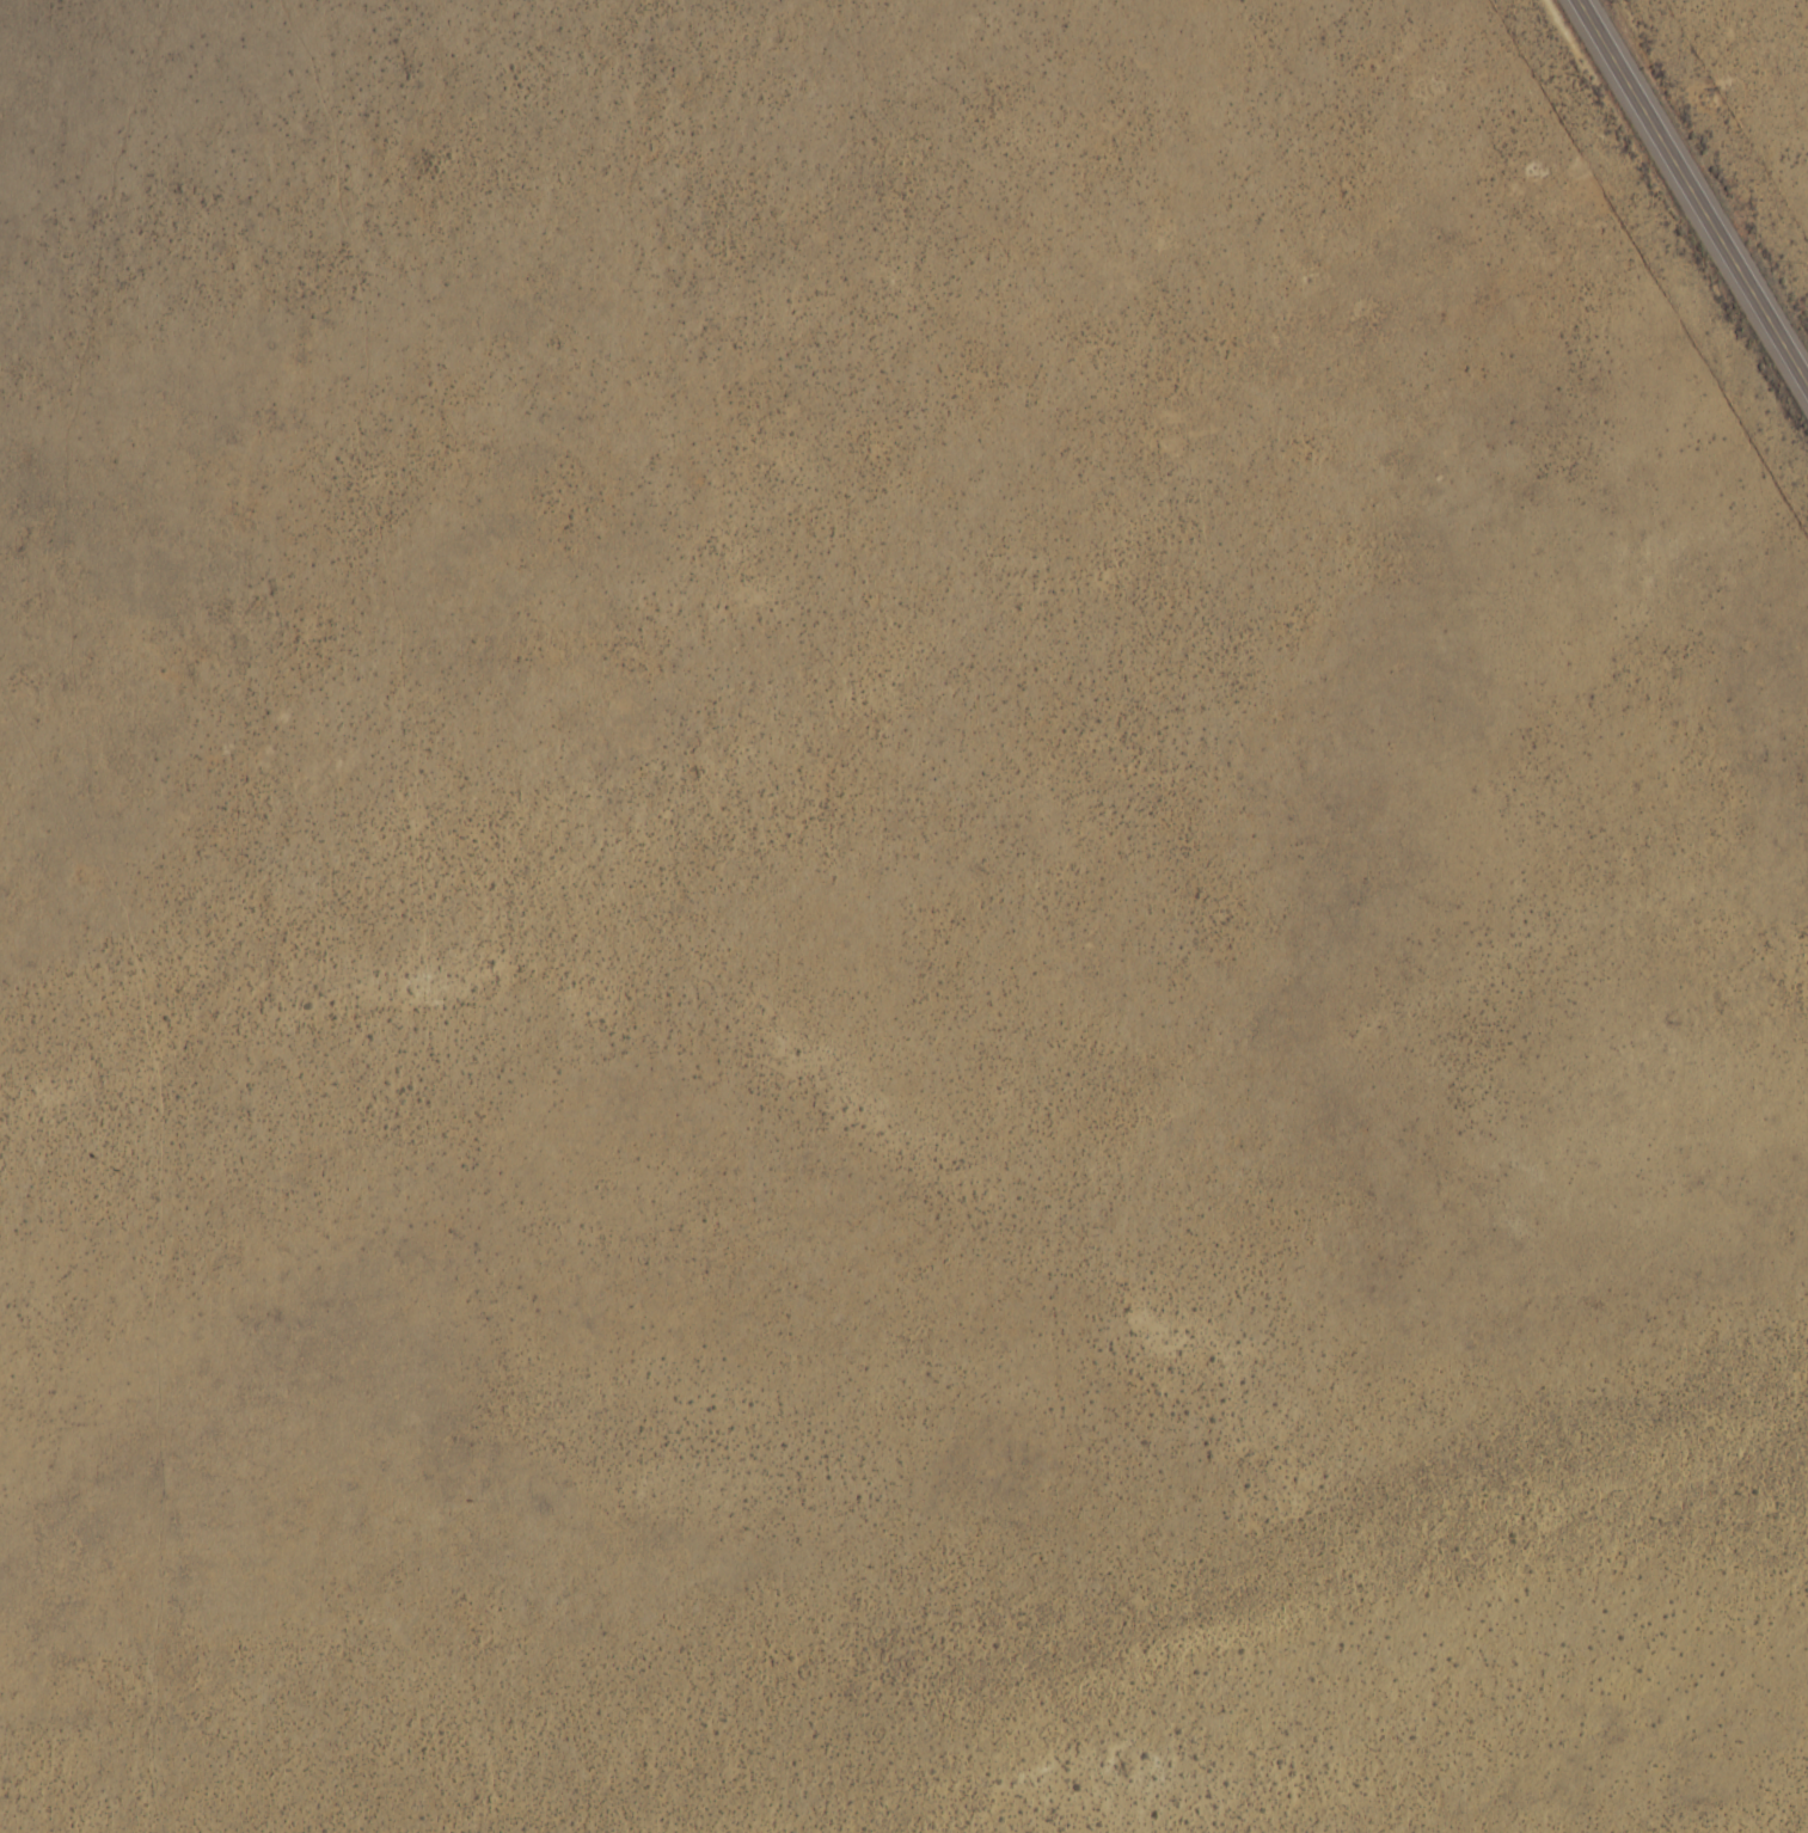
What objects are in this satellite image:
road: (1690, 204)

